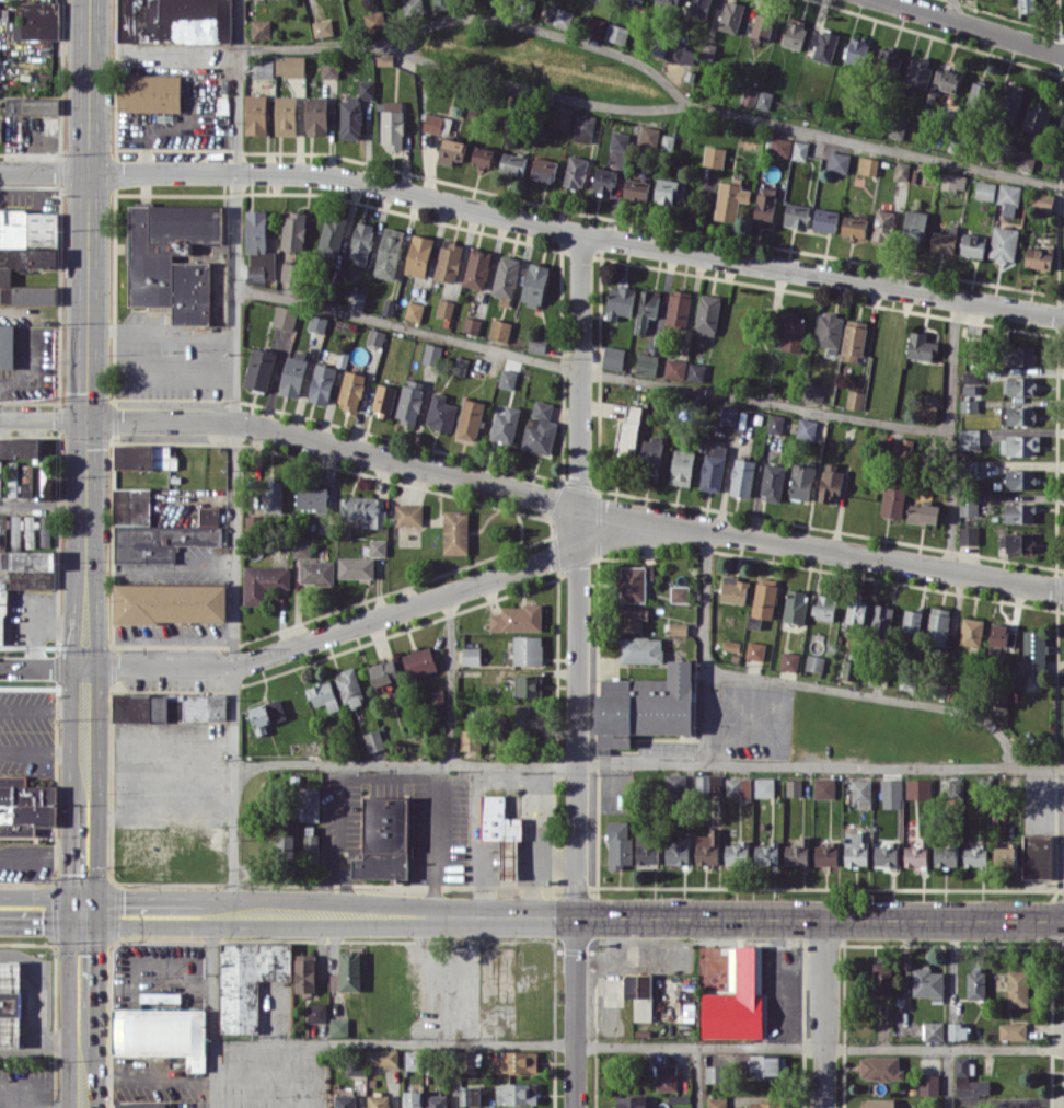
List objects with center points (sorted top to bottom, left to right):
building: (669, 2)
building: (499, 3)
building: (441, 4)
building: (412, 5)
building: (1028, 5)
building: (698, 8)
road: (949, 9)
building: (559, 15)
building: (730, 15)
building: (38, 21)
building: (174, 21)
building: (374, 21)
building: (593, 26)
building: (762, 26)
road: (976, 26)
building: (322, 27)
building: (261, 28)
road: (544, 33)
building: (615, 33)
building: (794, 33)
road: (312, 45)
building: (824, 46)
building: (855, 49)
building: (681, 54)
building: (887, 59)
road: (164, 60)
building: (290, 66)
building: (263, 68)
building: (328, 68)
building: (918, 71)
road: (533, 88)
building: (151, 93)
building: (980, 94)
building: (749, 95)
building: (764, 99)
building: (1010, 102)
building: (32, 105)
building: (354, 111)
building: (256, 114)
building: (286, 115)
building: (316, 115)
building: (560, 118)
building: (1036, 118)
building: (437, 123)
building: (392, 124)
building: (583, 127)
building: (0, 129)
building: (649, 136)
building: (618, 140)
road: (877, 143)
building: (780, 146)
building: (451, 150)
building: (799, 150)
building: (483, 155)
building: (714, 155)
building: (1022, 159)
building: (512, 162)
building: (839, 162)
building: (868, 165)
building: (543, 169)
building: (901, 170)
building: (575, 172)
building: (603, 180)
building: (953, 182)
building: (636, 188)
building: (667, 189)
building: (984, 189)
building: (1008, 198)
building: (730, 199)
building: (1041, 201)
building: (764, 204)
building: (796, 215)
building: (825, 219)
road: (533, 220)
building: (854, 224)
building: (882, 224)
building: (914, 224)
building: (293, 230)
building: (332, 234)
building: (944, 240)
building: (360, 242)
building: (1004, 243)
building: (972, 244)
building: (258, 247)
building: (27, 253)
building: (389, 253)
building: (418, 255)
building: (172, 257)
building: (1038, 257)
building: (448, 261)
building: (477, 268)
building: (290, 272)
building: (506, 279)
building: (534, 284)
building: (618, 301)
building: (678, 307)
building: (444, 308)
building: (646, 308)
building: (414, 311)
building: (707, 314)
building: (285, 316)
building: (317, 323)
building: (471, 325)
building: (499, 330)
building: (789, 331)
building: (829, 331)
road: (162, 332)
building: (375, 336)
building: (853, 339)
building: (536, 343)
building: (7, 346)
building: (921, 346)
building: (432, 354)
building: (1020, 355)
building: (613, 357)
building: (646, 363)
building: (460, 365)
building: (259, 368)
building: (674, 368)
building: (695, 371)
building: (293, 372)
road: (589, 372)
building: (972, 377)
building: (507, 378)
building: (322, 383)
building: (1018, 384)
building: (351, 390)
building: (383, 399)
building: (855, 399)
road: (86, 400)
building: (409, 401)
building: (969, 405)
building: (927, 412)
building: (440, 413)
building: (729, 414)
building: (1017, 415)
building: (470, 418)
traffic signals: (86, 420)
building: (775, 423)
building: (505, 425)
building: (540, 427)
building: (807, 428)
building: (628, 430)
road: (948, 432)
building: (969, 438)
building: (1019, 445)
building: (905, 446)
building: (20, 447)
building: (144, 457)
road: (234, 457)
building: (651, 459)
building: (682, 466)
building: (713, 466)
building: (0, 475)
building: (742, 476)
building: (1019, 478)
building: (773, 481)
building: (801, 481)
building: (831, 482)
road: (532, 492)
building: (273, 496)
building: (312, 497)
road: (43, 501)
building: (893, 501)
building: (969, 504)
building: (131, 506)
building: (363, 509)
building: (923, 512)
building: (1019, 512)
building: (408, 513)
building: (15, 528)
building: (455, 531)
building: (968, 534)
building: (30, 536)
building: (164, 538)
building: (1017, 542)
building: (378, 546)
building: (301, 547)
building: (356, 567)
building: (30, 568)
building: (316, 572)
building: (263, 581)
building: (634, 581)
building: (733, 589)
building: (680, 592)
building: (764, 597)
building: (170, 602)
building: (795, 605)
building: (824, 607)
building: (856, 611)
building: (2, 615)
building: (517, 618)
building: (633, 619)
building: (881, 619)
building: (912, 620)
building: (937, 625)
building: (678, 628)
road: (348, 630)
building: (971, 631)
building: (1003, 635)
building: (528, 649)
building: (640, 649)
building: (755, 650)
building: (1033, 651)
building: (471, 655)
building: (789, 660)
building: (419, 661)
building: (814, 662)
road: (579, 669)
building: (849, 669)
building: (384, 672)
road: (451, 679)
building: (909, 681)
building: (528, 684)
road: (807, 685)
building: (348, 686)
building: (323, 695)
building: (170, 706)
building: (645, 706)
road: (42, 711)
building: (266, 714)
building: (527, 718)
building: (470, 739)
building: (373, 740)
road: (42, 752)
road: (406, 764)
road: (821, 764)
building: (708, 783)
building: (675, 785)
building: (738, 786)
building: (764, 786)
building: (794, 787)
building: (824, 787)
building: (953, 787)
building: (918, 788)
building: (861, 792)
building: (891, 793)
building: (308, 804)
road: (158, 816)
building: (501, 832)
building: (384, 839)
road: (335, 840)
road: (435, 840)
building: (311, 841)
road: (478, 841)
building: (285, 843)
building: (618, 844)
building: (707, 847)
building: (646, 850)
building: (855, 850)
road: (41, 852)
building: (797, 852)
building: (676, 853)
building: (737, 853)
building: (766, 853)
building: (916, 853)
building: (826, 854)
building: (886, 855)
building: (946, 855)
building: (975, 855)
building: (1036, 855)
road: (83, 856)
building: (1005, 856)
road: (530, 876)
road: (44, 893)
road: (525, 898)
traffic signals: (83, 913)
road: (573, 916)
road: (42, 924)
building: (305, 972)
building: (347, 972)
road: (83, 978)
building: (881, 979)
building: (248, 980)
building: (928, 983)
building: (975, 983)
building: (1018, 988)
building: (639, 994)
building: (160, 996)
building: (736, 999)
building: (10, 1003)
road: (212, 1011)
building: (316, 1012)
road: (825, 1013)
building: (339, 1027)
building: (933, 1030)
building: (958, 1030)
building: (1013, 1030)
building: (161, 1034)
road: (10, 1039)
road: (51, 1041)
road: (519, 1046)
road: (944, 1048)
building: (382, 1057)
building: (413, 1059)
building: (467, 1061)
building: (517, 1061)
building: (355, 1065)
building: (767, 1065)
building: (880, 1067)
building: (714, 1073)
road: (83, 1075)
road: (454, 1076)
building: (667, 1076)
road: (697, 1077)
road: (948, 1078)
building: (928, 1084)
building: (517, 1093)
building: (470, 1095)
building: (413, 1099)
building: (345, 1100)
building: (378, 1100)
building: (436, 1100)
building: (632, 1101)
building: (717, 1101)
road: (9, 1103)
building: (878, 1103)
building: (140, 1105)
building: (766, 1105)
building: (1016, 1107)

